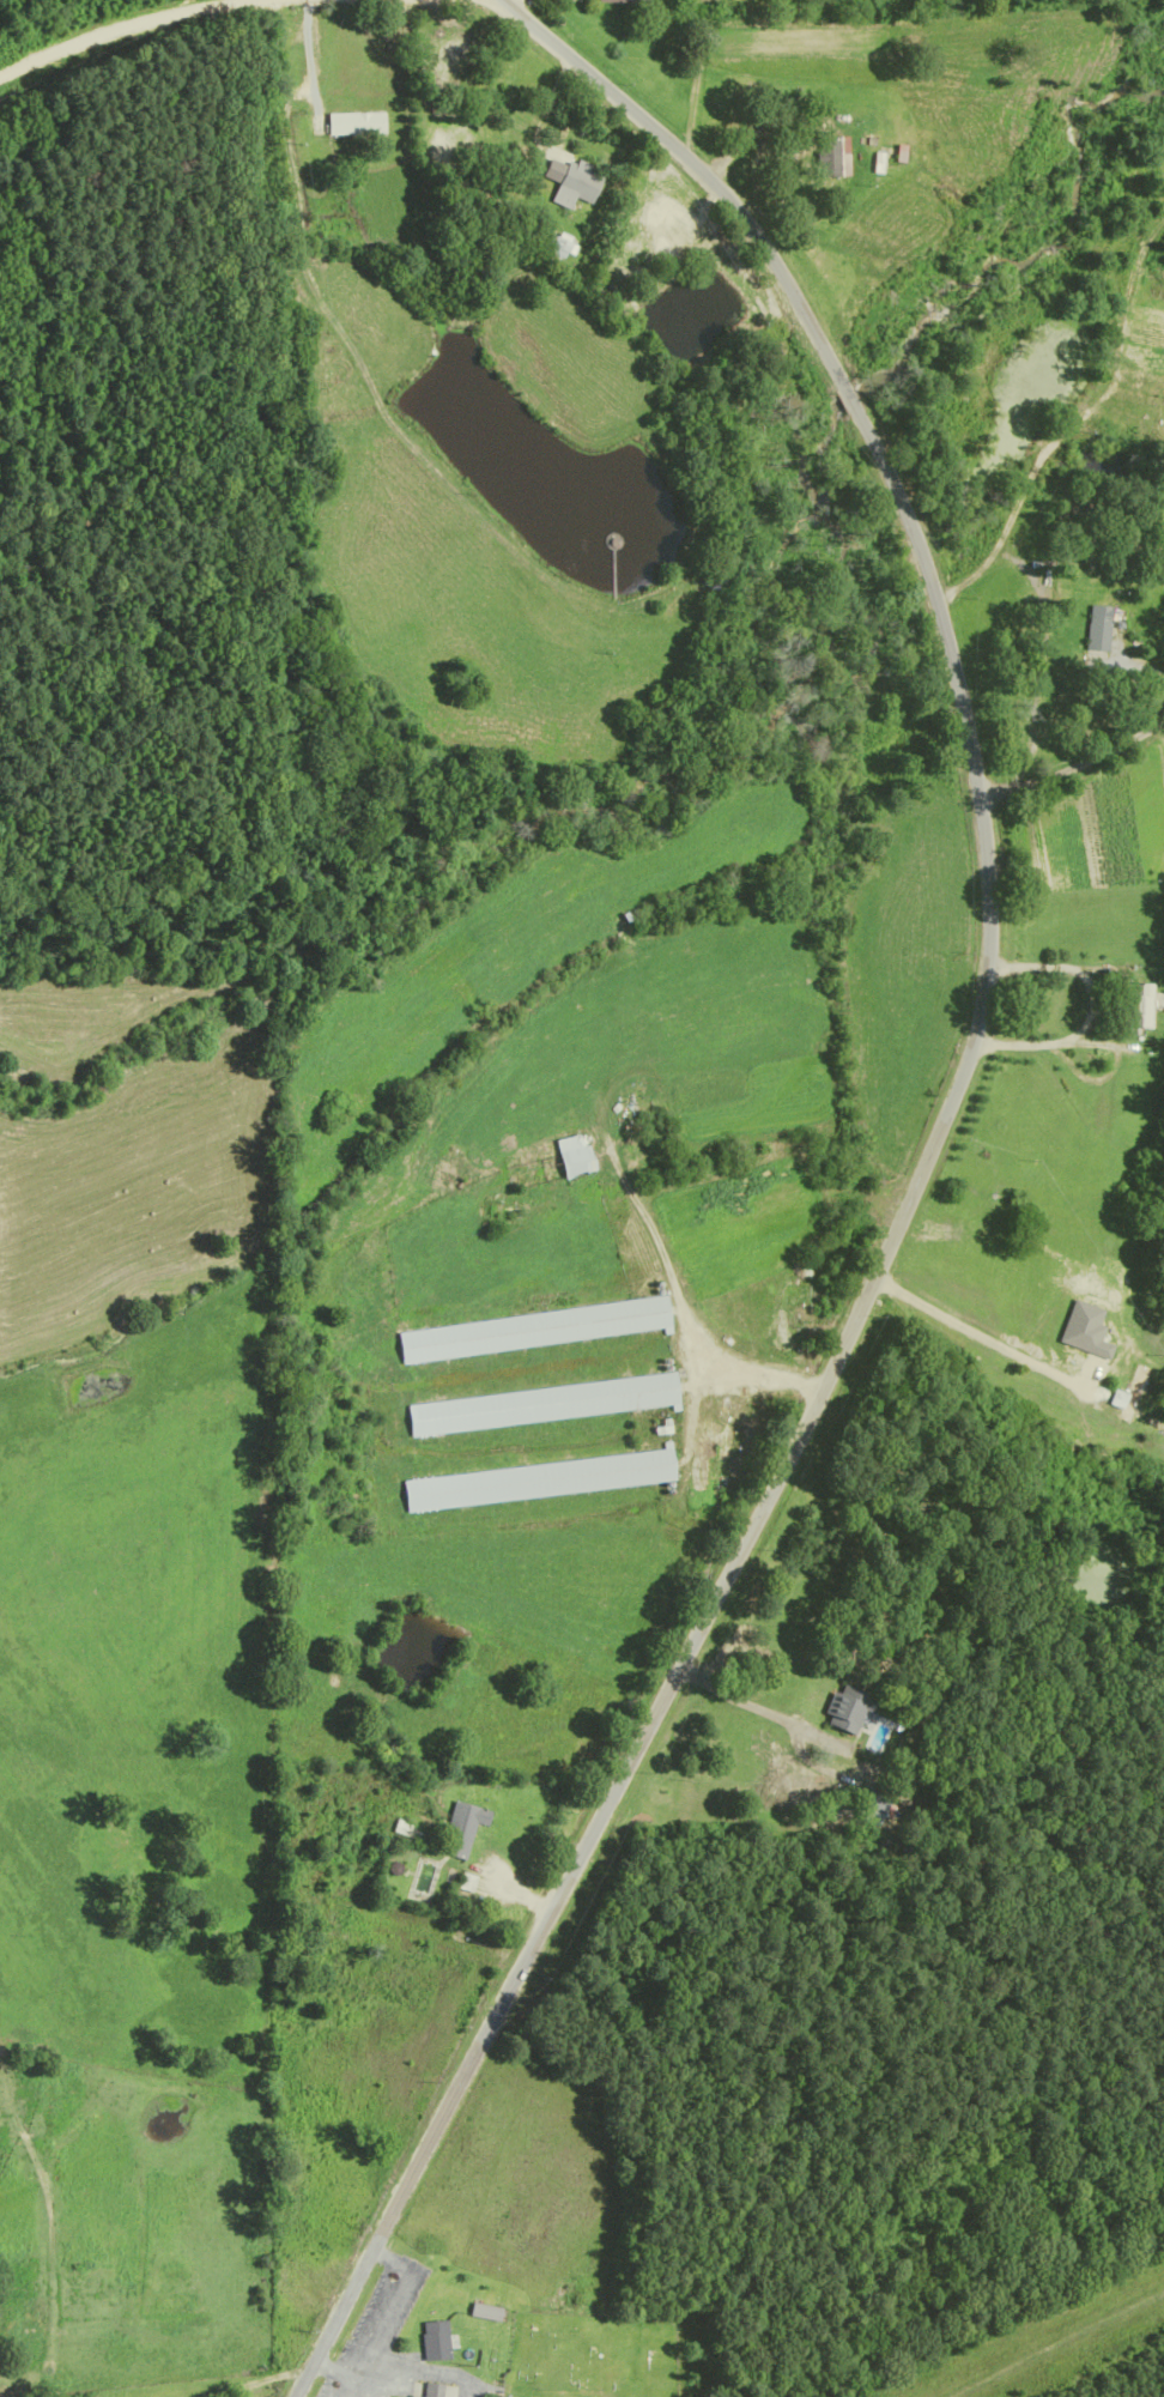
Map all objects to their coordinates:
building: (620, 2)
road: (141, 25)
road: (562, 42)
building: (509, 119)
building: (354, 126)
building: (827, 155)
building: (574, 187)
building: (554, 252)
building: (1099, 630)
road: (1074, 770)
building: (1134, 1010)
building: (569, 1158)
road: (919, 1184)
building: (531, 1333)
building: (1127, 1399)
building: (539, 1408)
building: (535, 1484)
building: (843, 1714)
building: (872, 1803)
building: (460, 1833)
road: (389, 2301)
building: (480, 2314)
building: (429, 2342)
road: (344, 2369)
road: (414, 2369)
building: (434, 2389)
building: (416, 2396)

